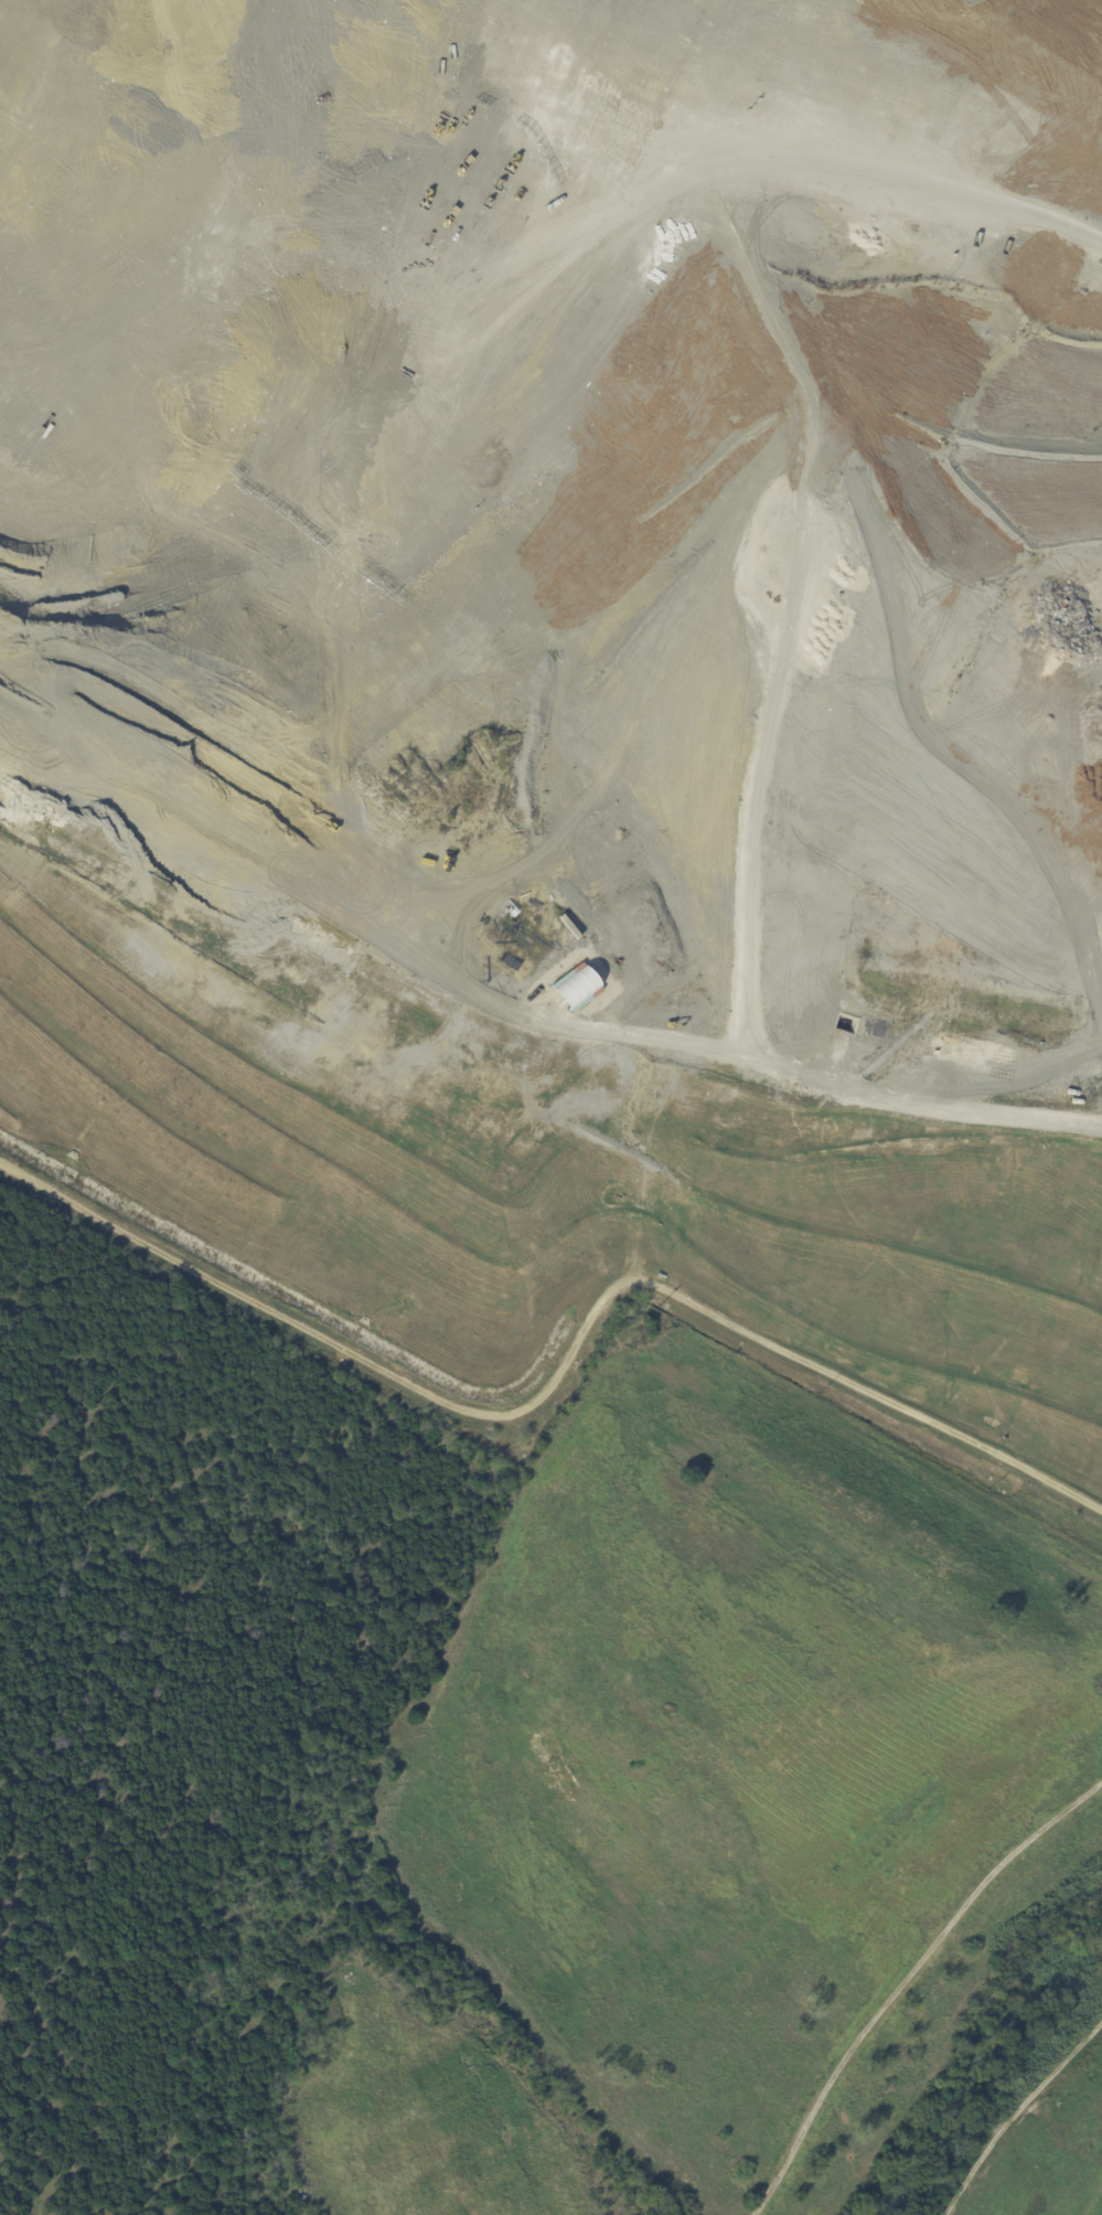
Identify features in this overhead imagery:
landfill: (569, 670)
building: (575, 988)
landfill: (734, 1839)

